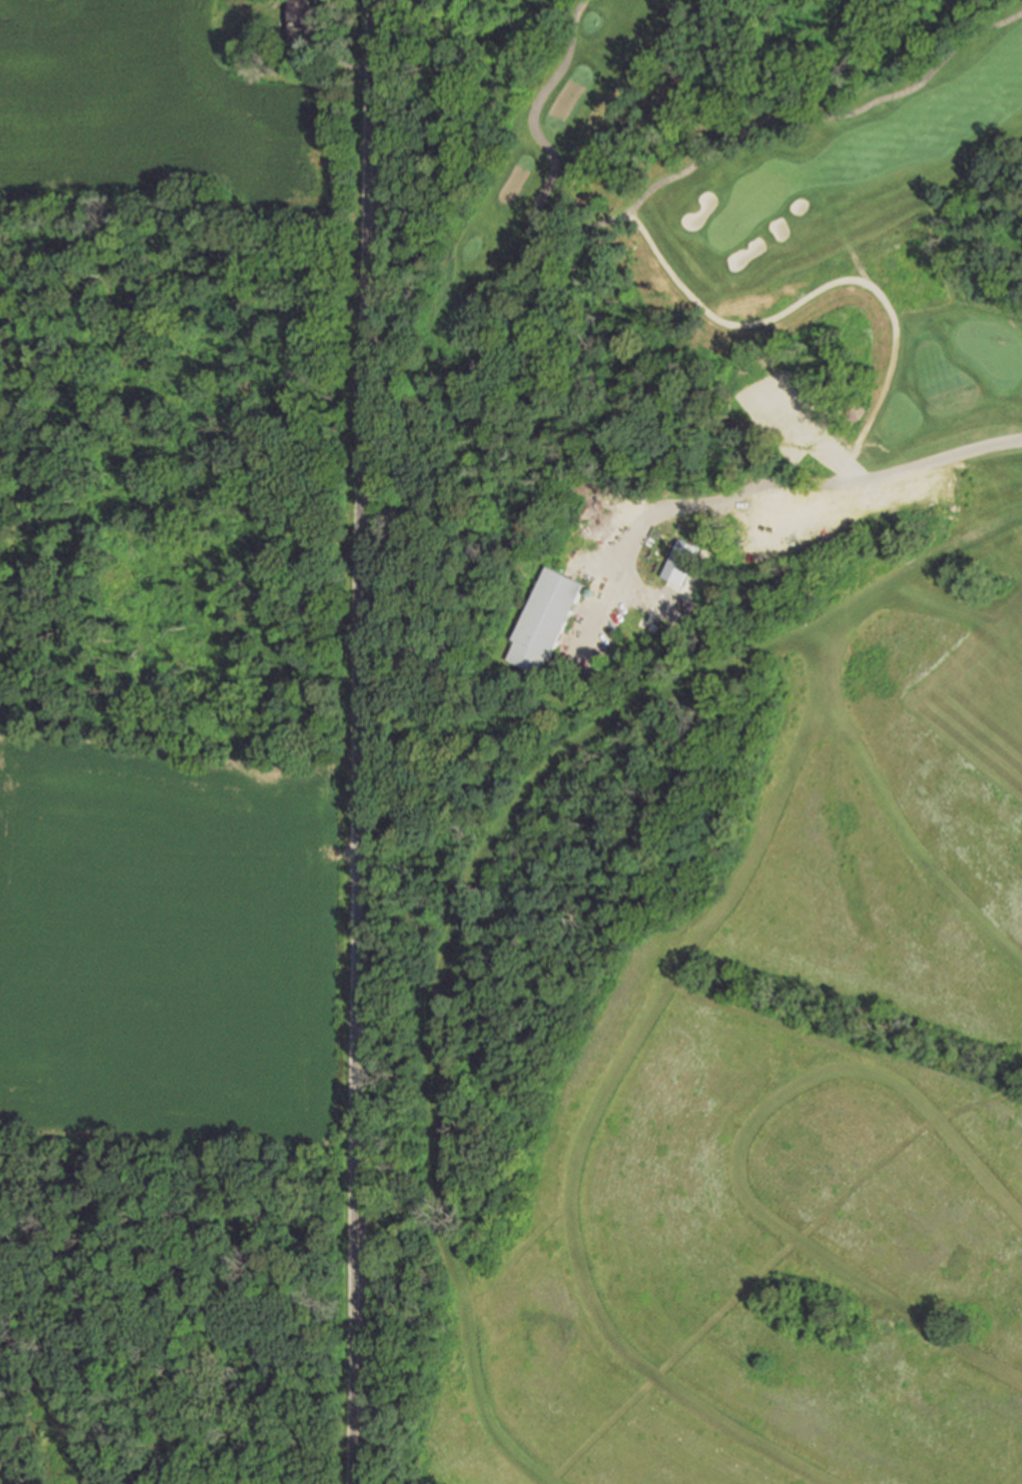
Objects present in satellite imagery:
building: (300, 18)
road: (665, 181)
road: (367, 208)
road: (592, 227)
road: (824, 288)
park: (672, 307)
road: (818, 484)
road: (987, 484)
road: (957, 544)
building: (682, 564)
road: (965, 607)
building: (544, 623)
park: (176, 671)
road: (891, 810)
road: (452, 931)
road: (356, 950)
track: (664, 989)
road: (766, 1020)
road: (589, 1120)
road: (734, 1149)
track: (775, 1222)
road: (517, 1247)
road: (771, 1262)
road: (1013, 1473)

